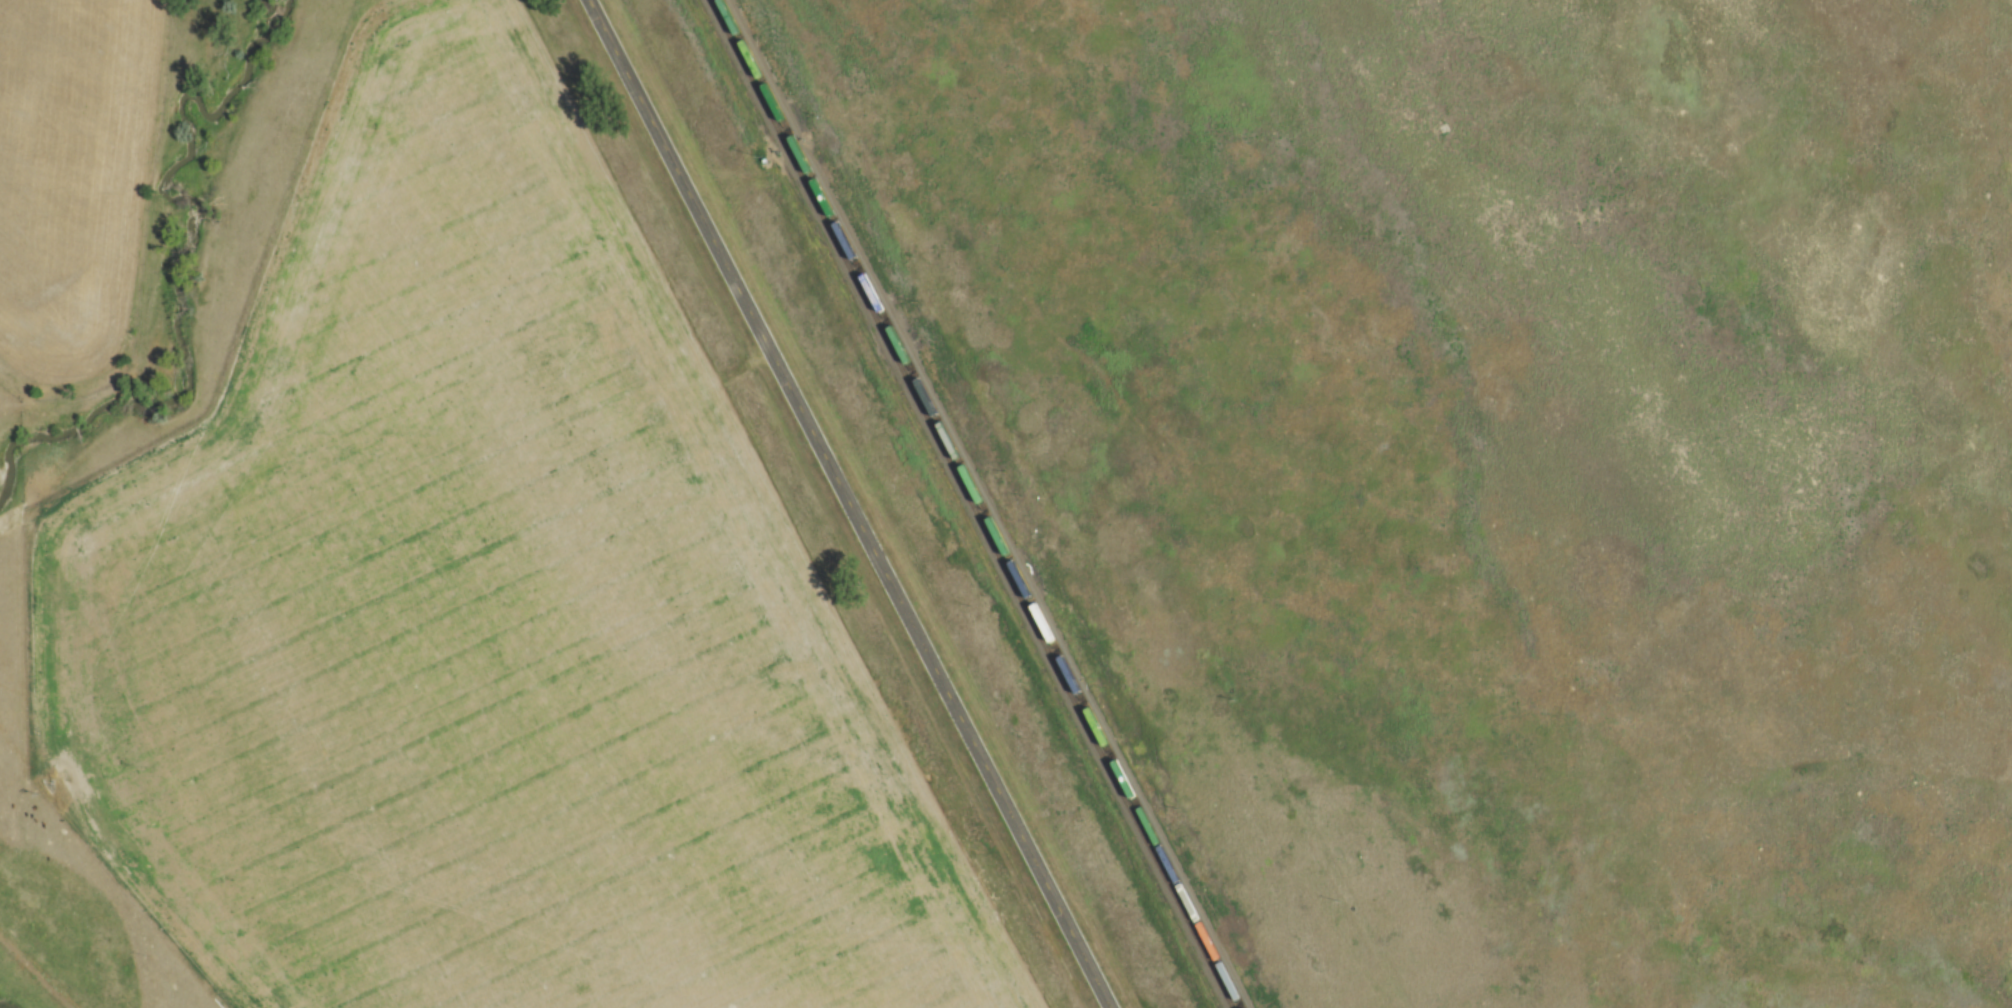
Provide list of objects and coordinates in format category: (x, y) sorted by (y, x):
crop: (67, 174)
road: (852, 503)
railway: (984, 503)
railway: (973, 504)
crop: (491, 613)

